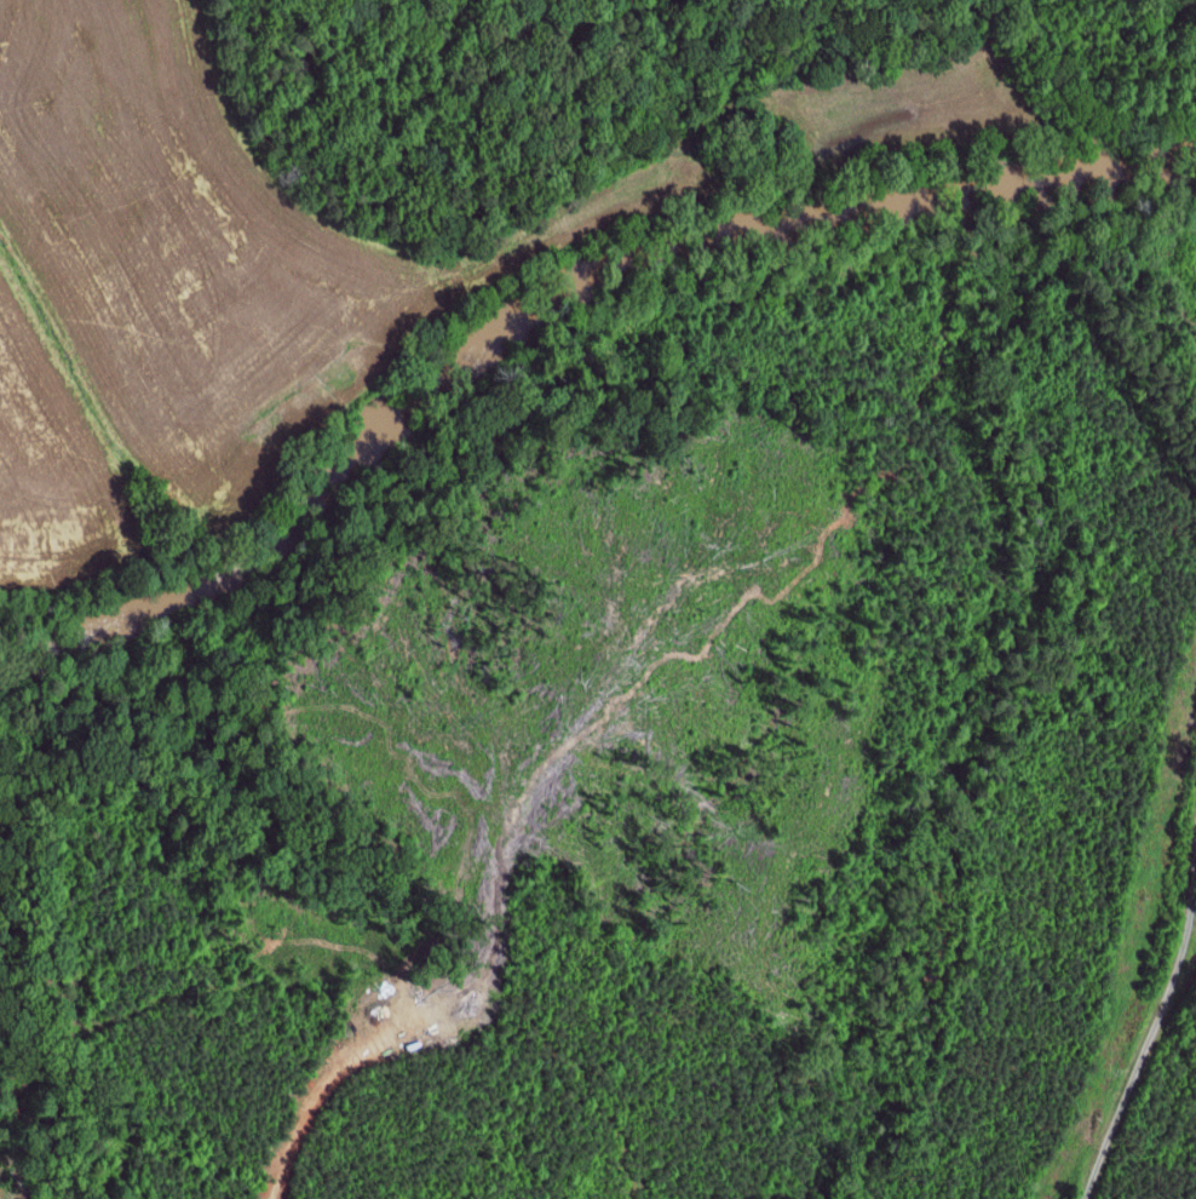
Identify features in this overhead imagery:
road: (1149, 1037)

